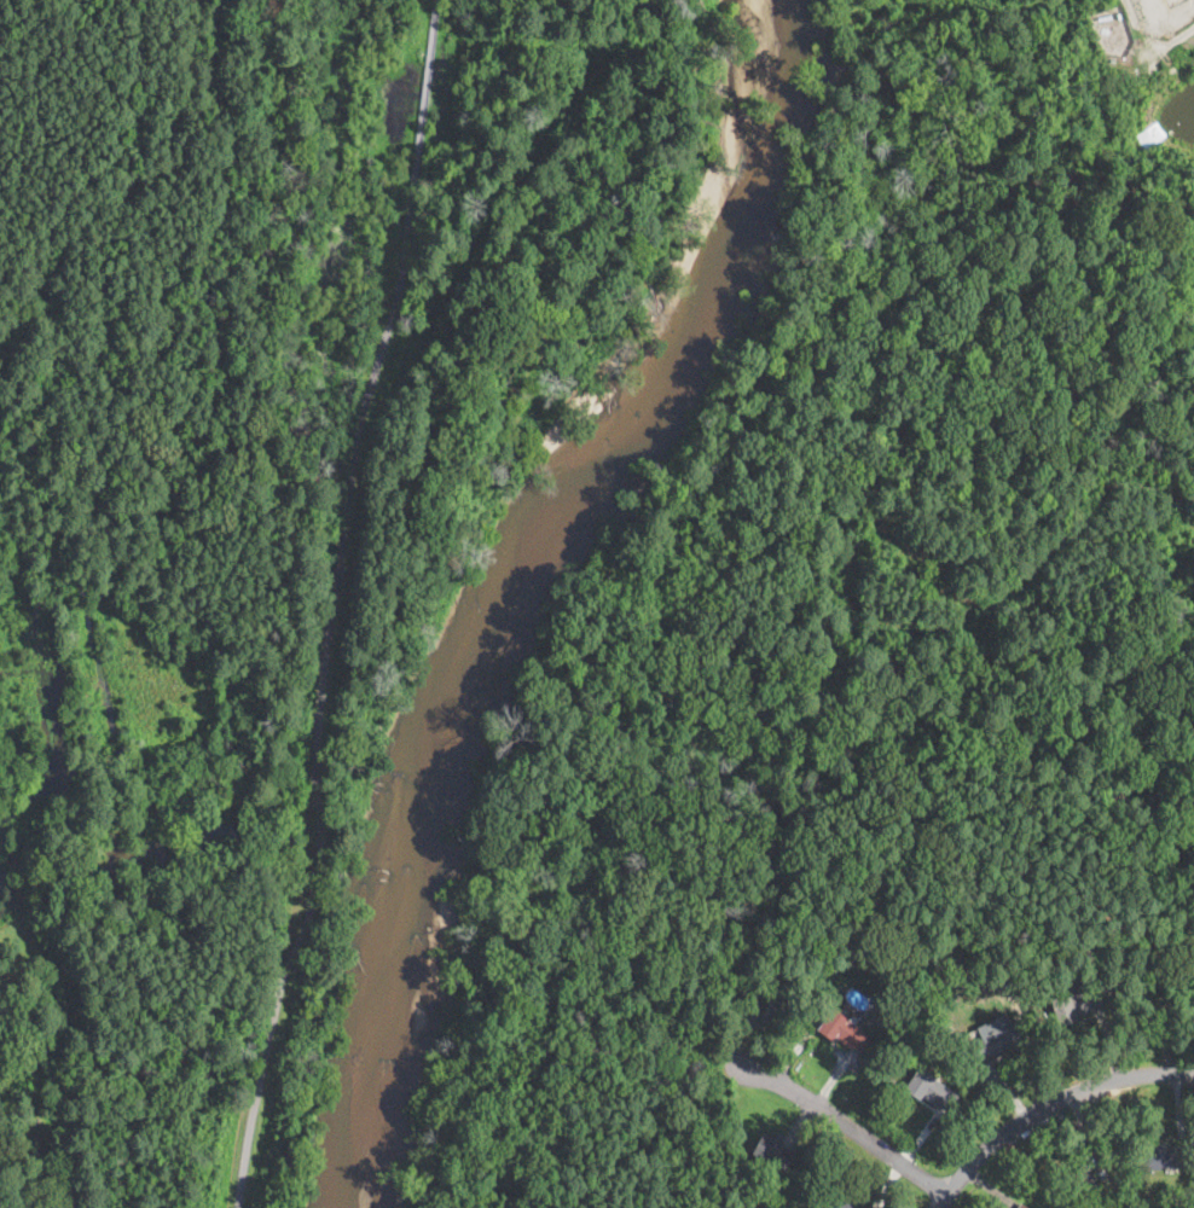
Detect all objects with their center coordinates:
river: (767, 35)
road: (418, 129)
park: (266, 478)
river: (587, 488)
road: (337, 554)
road: (314, 879)
building: (1167, 982)
building: (837, 989)
building: (1074, 1004)
building: (888, 1006)
building: (771, 1012)
building: (842, 1029)
building: (997, 1039)
road: (265, 1053)
river: (381, 1057)
building: (931, 1090)
road: (1047, 1108)
road: (842, 1125)
building: (772, 1151)
building: (1161, 1156)
building: (1077, 1184)
building: (839, 1202)
building: (1021, 1206)

